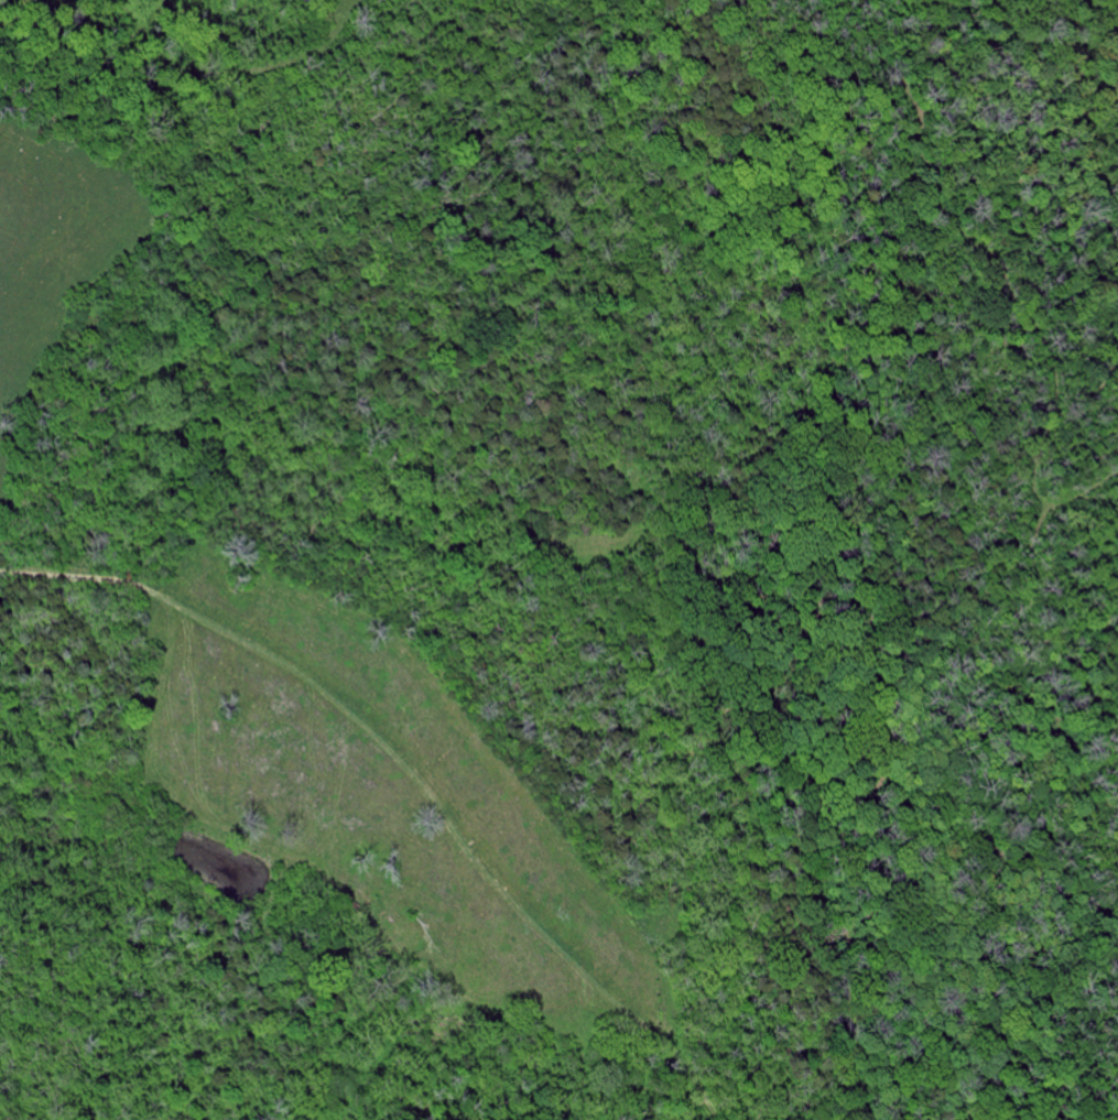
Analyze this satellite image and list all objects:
road: (424, 766)

